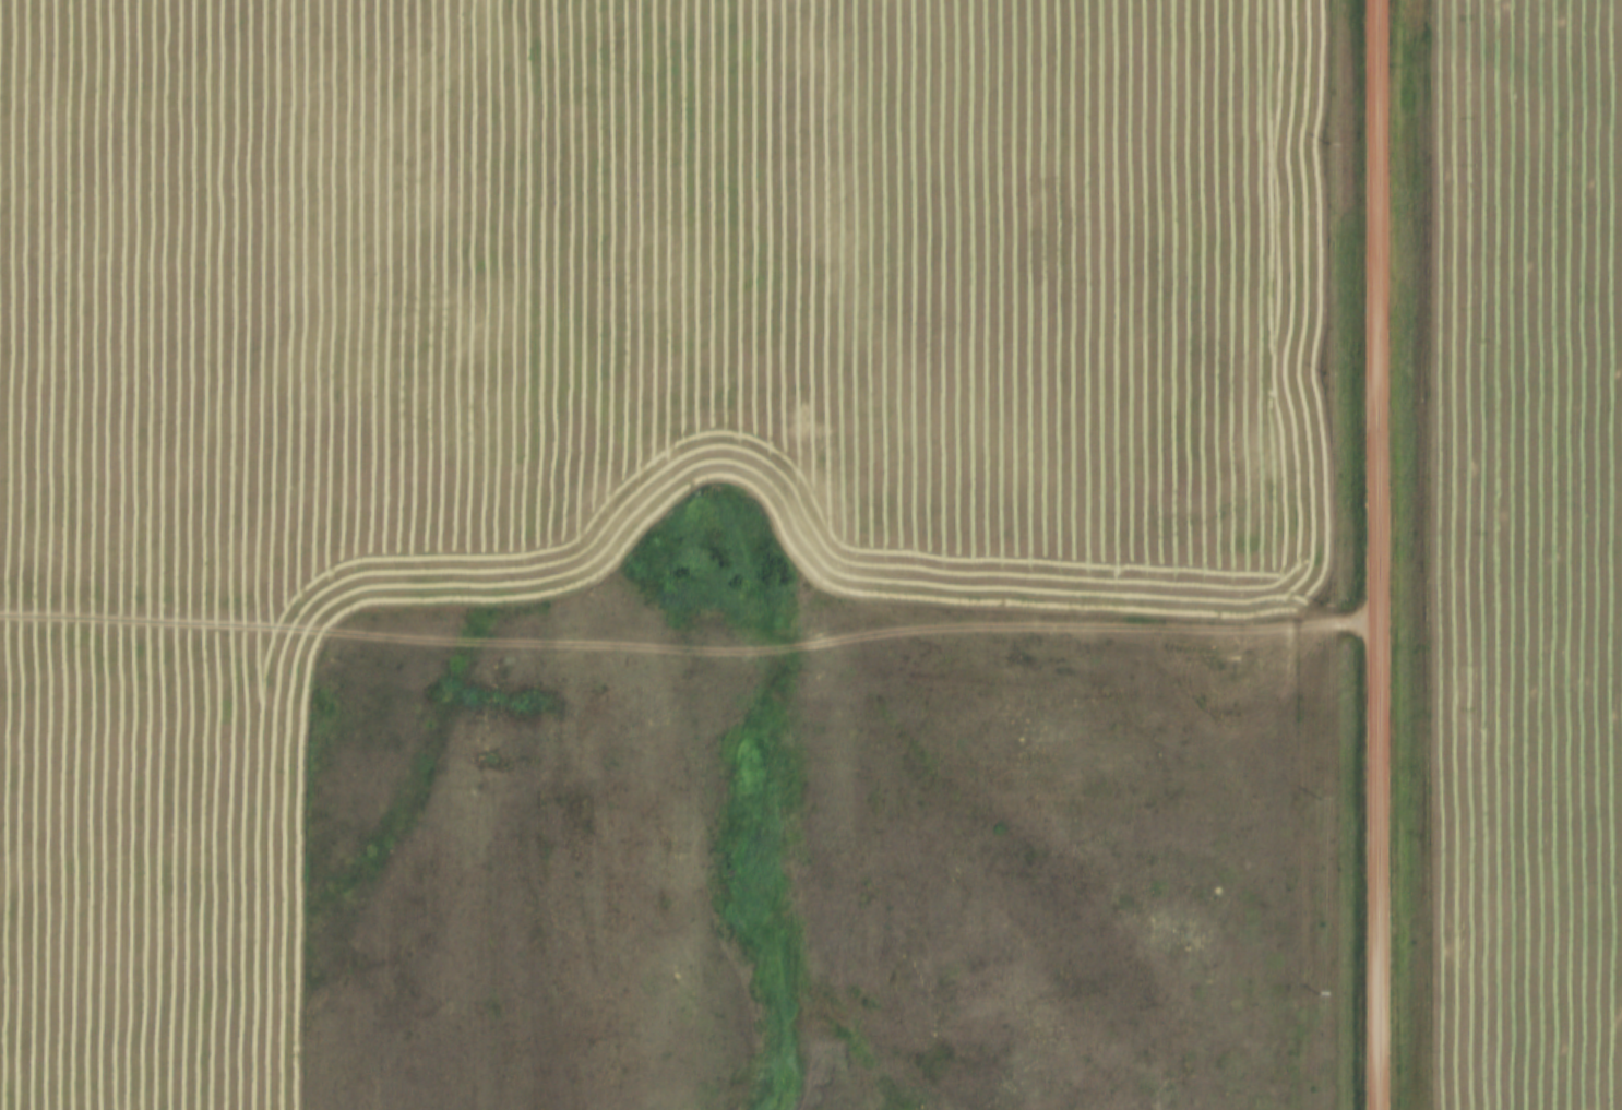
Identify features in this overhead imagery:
road: (1377, 554)

